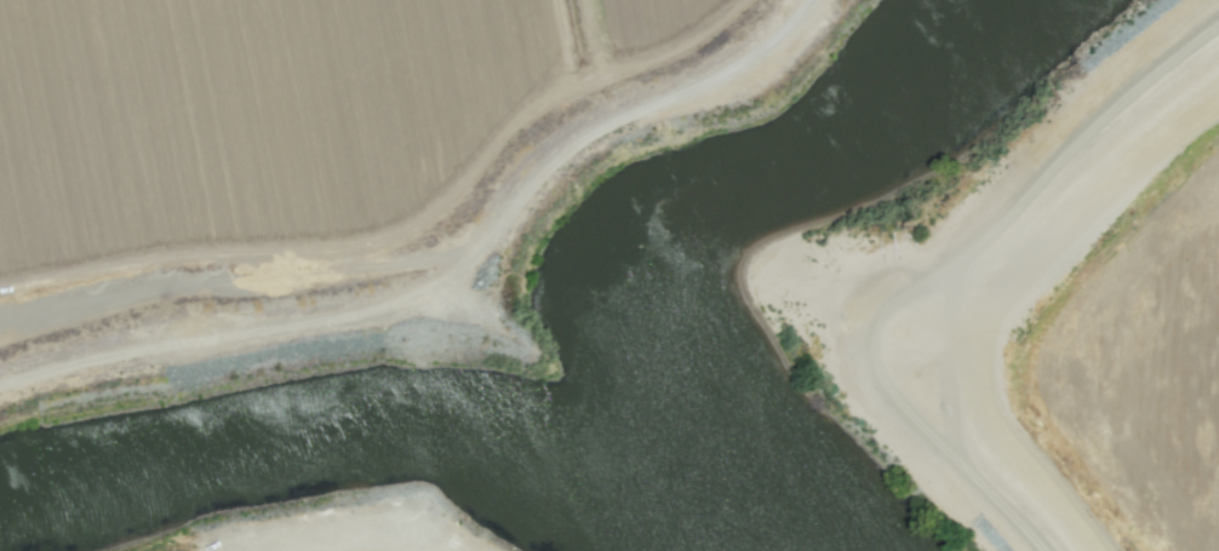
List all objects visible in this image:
river: (749, 200)
road: (425, 253)
road: (927, 275)
crop: (1093, 338)
river: (338, 441)
river: (720, 510)

